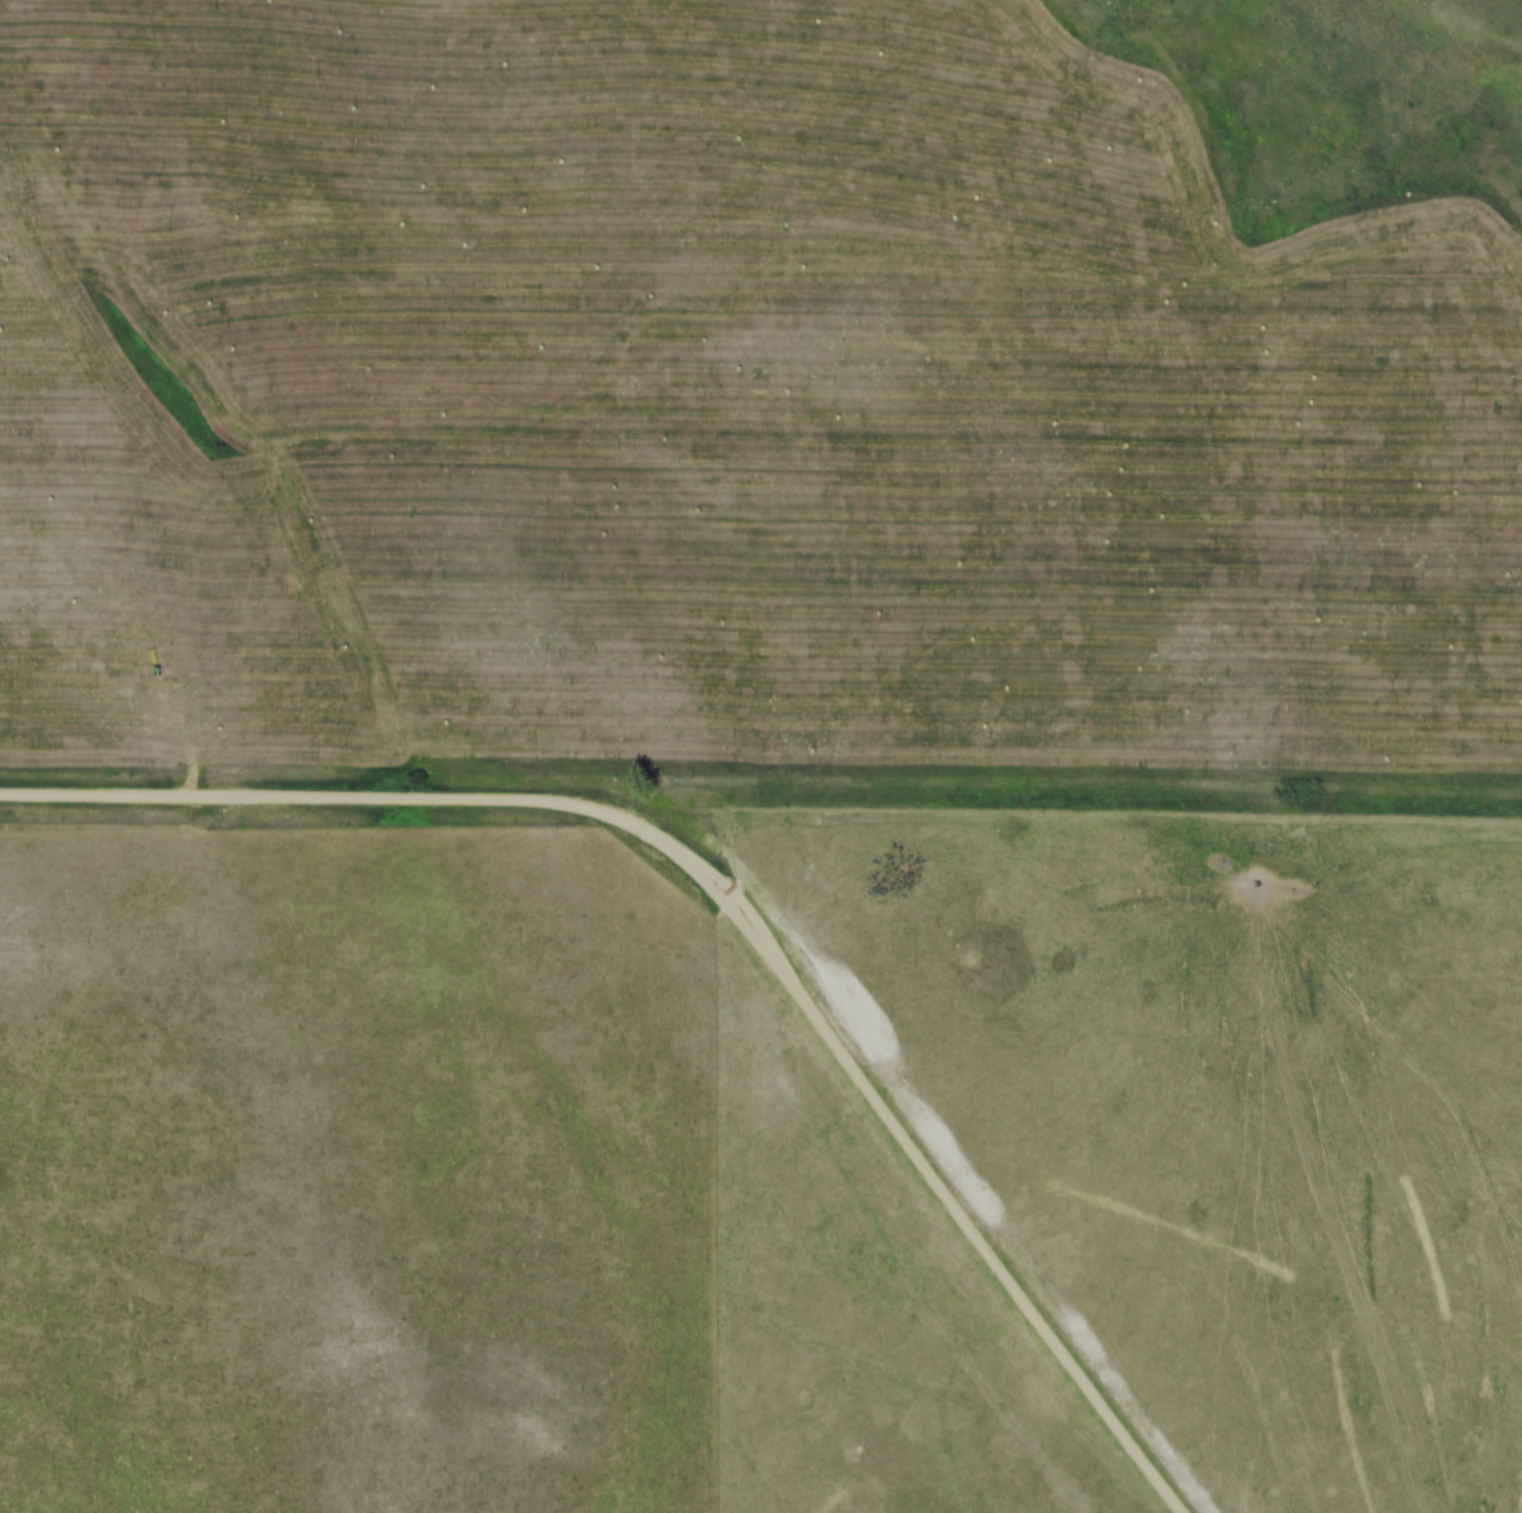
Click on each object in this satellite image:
road: (735, 895)
road: (747, 929)

